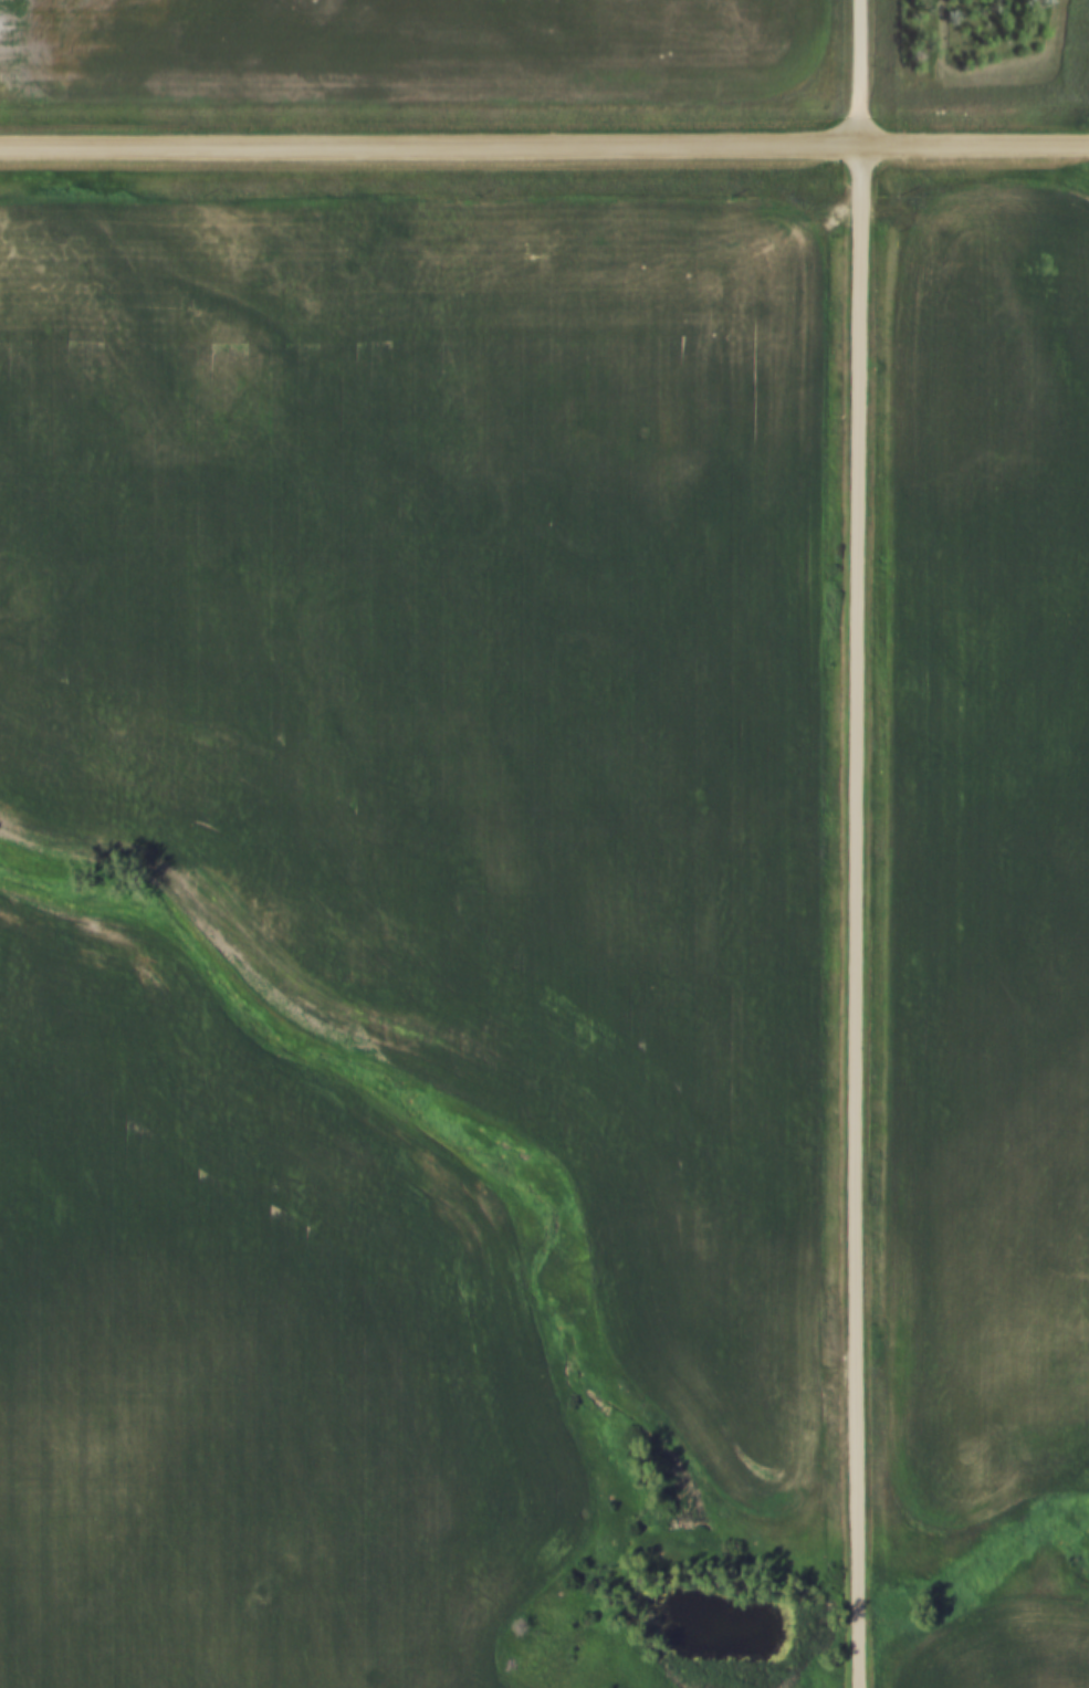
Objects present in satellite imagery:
road: (859, 72)
road: (544, 147)
road: (855, 916)

